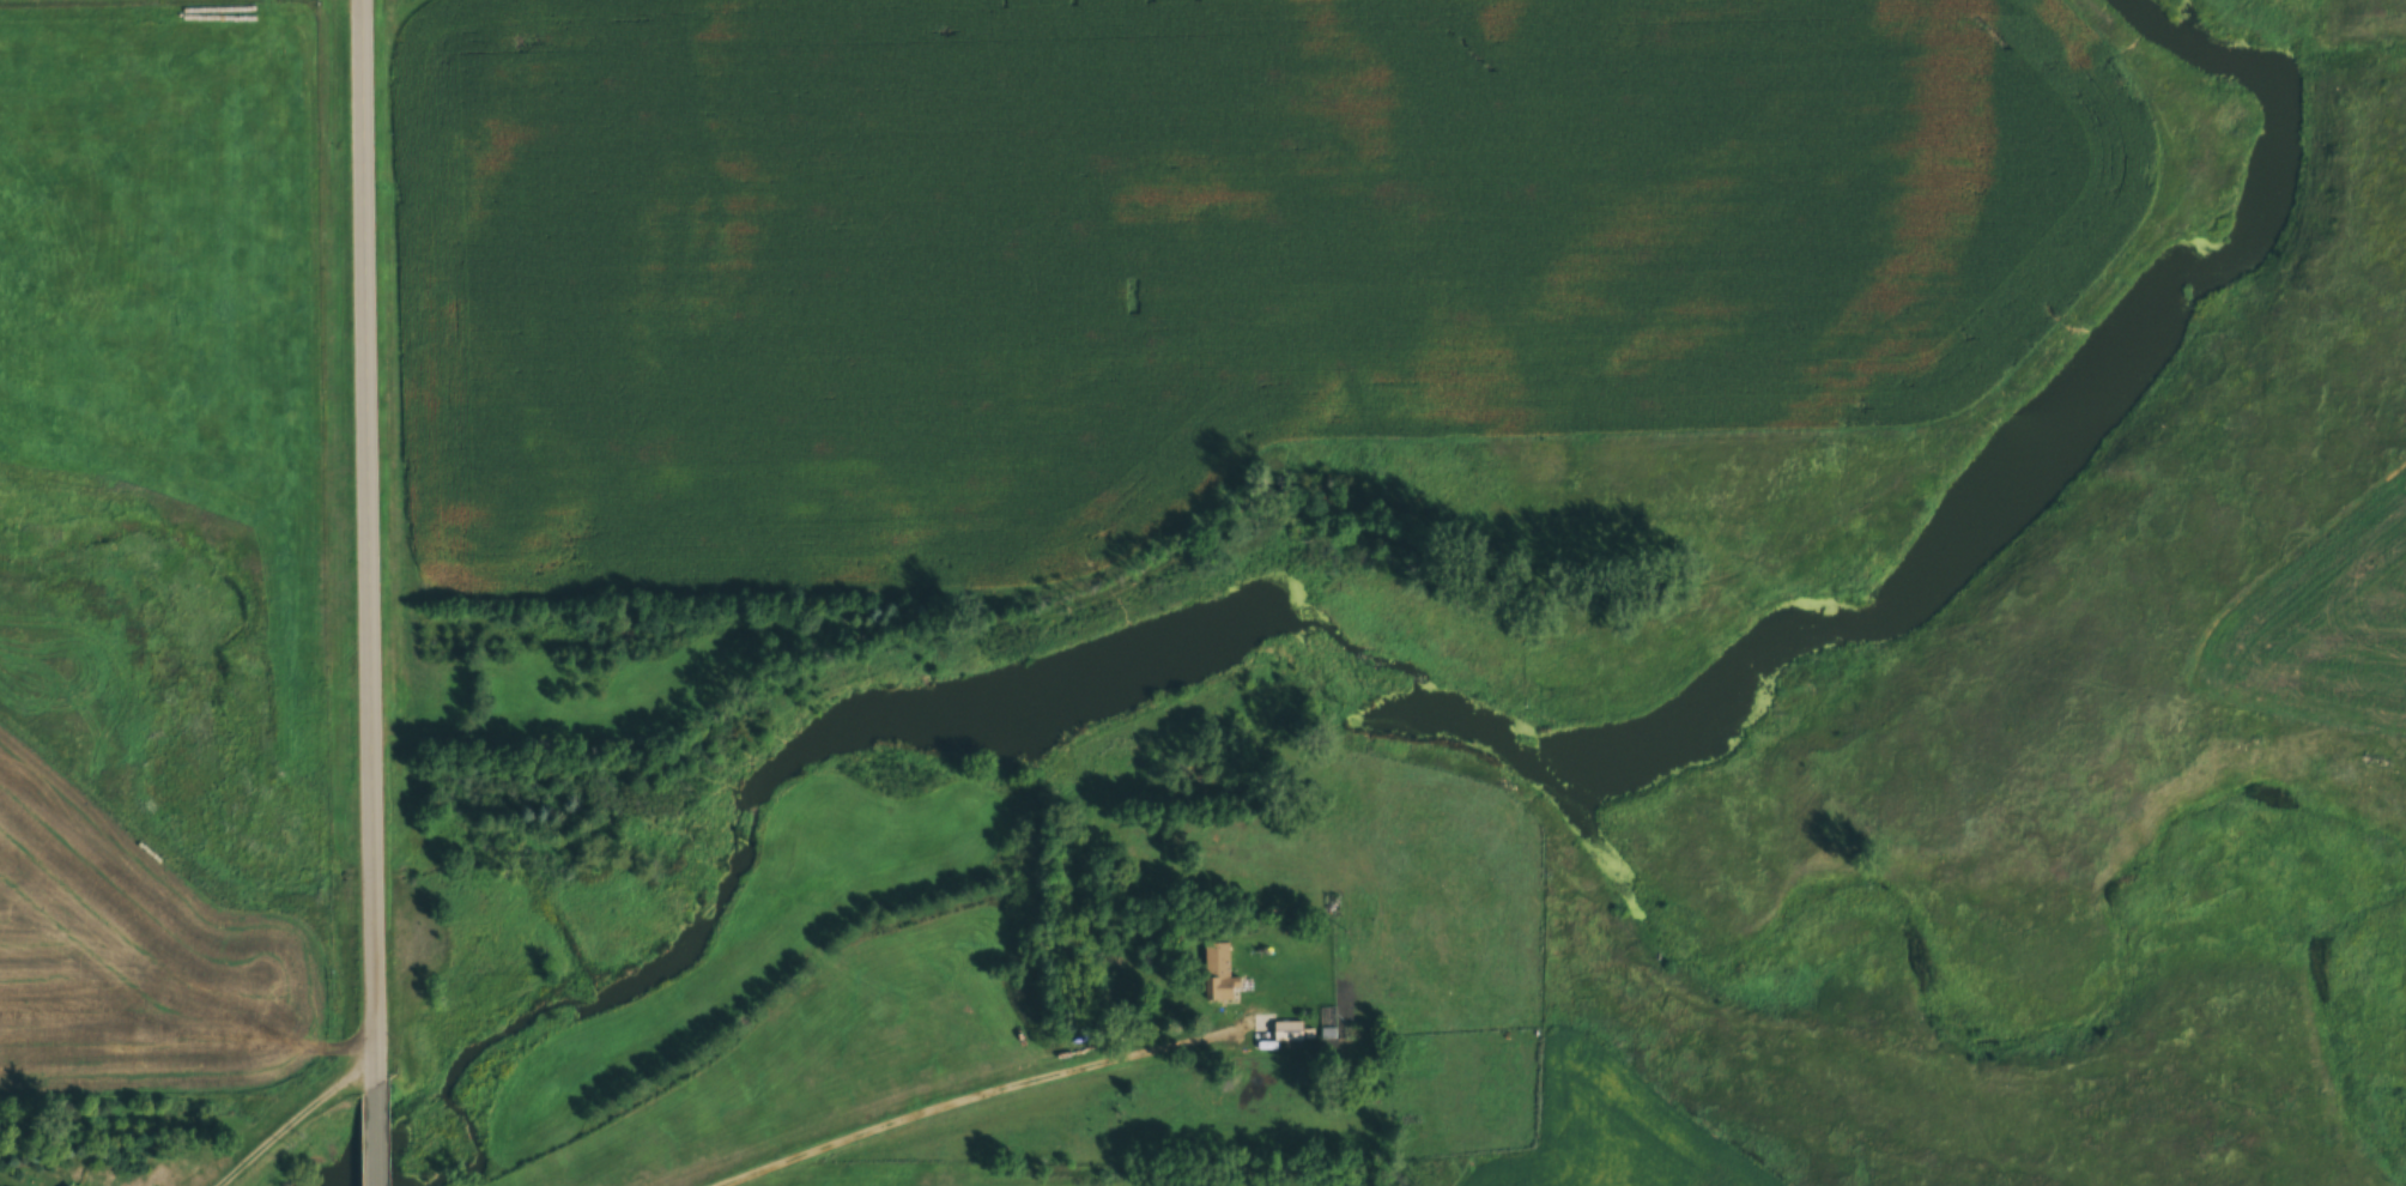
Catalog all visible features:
road: (366, 592)
building: (1401, 933)
building: (1216, 973)
building: (1278, 1035)
building: (1353, 1035)

